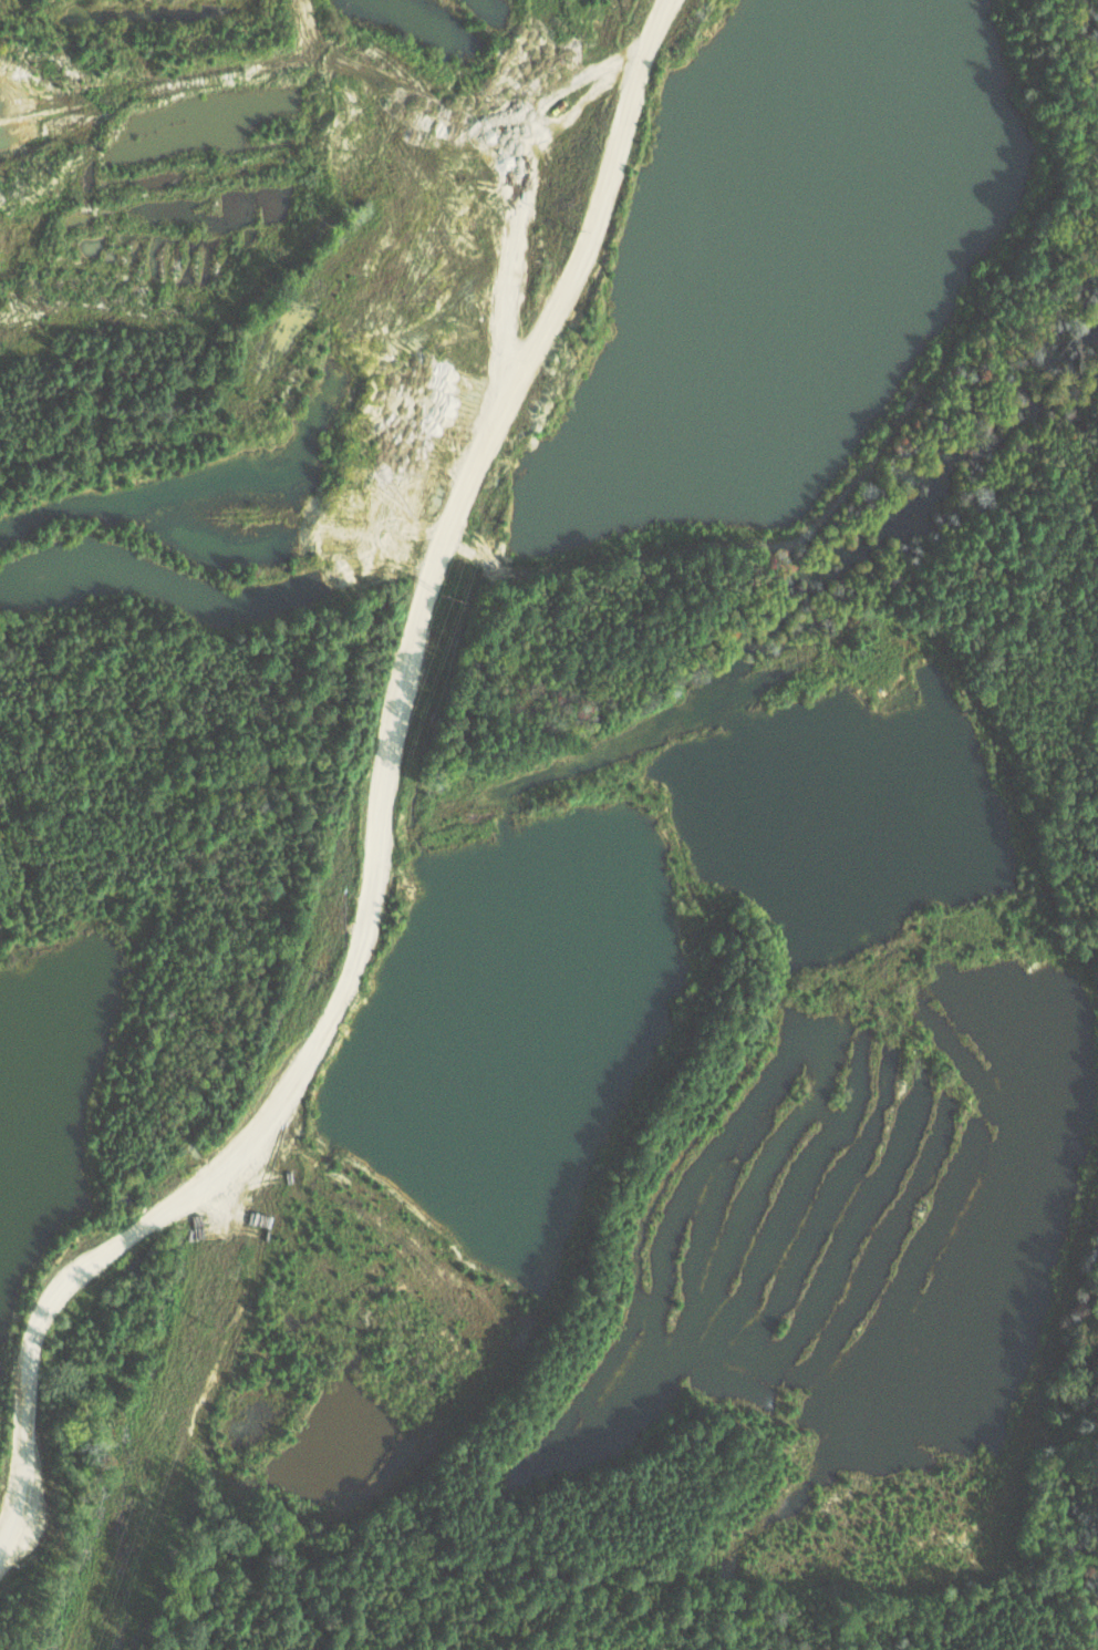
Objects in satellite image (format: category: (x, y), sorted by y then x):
power tower: (569, 228)
power tower: (444, 601)
power tower: (319, 976)
power tower: (199, 1326)

